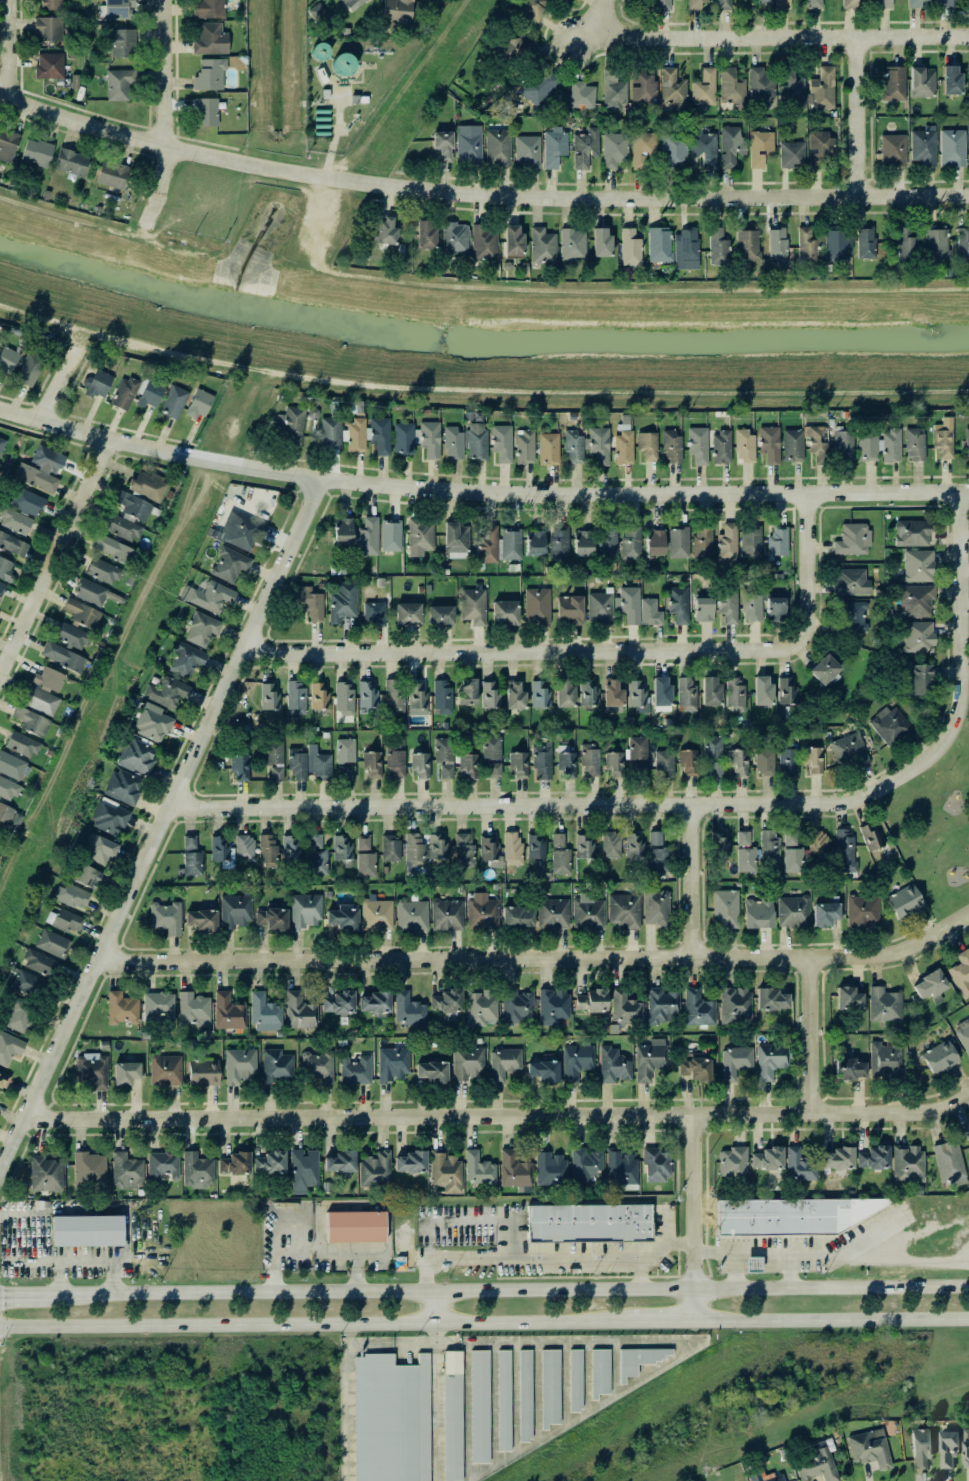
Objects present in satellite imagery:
building: (760, 1)
building: (915, 3)
building: (944, 3)
building: (51, 4)
building: (352, 4)
building: (663, 4)
building: (696, 4)
building: (724, 4)
building: (782, 4)
building: (815, 4)
building: (850, 4)
building: (884, 4)
building: (966, 6)
building: (533, 8)
building: (116, 9)
building: (209, 9)
road: (600, 10)
building: (397, 11)
building: (317, 13)
building: (48, 29)
road: (588, 31)
road: (783, 36)
building: (211, 40)
building: (122, 43)
road: (6, 49)
building: (515, 49)
building: (343, 64)
building: (49, 66)
building: (209, 75)
building: (948, 80)
building: (922, 82)
building: (119, 84)
building: (894, 84)
building: (761, 86)
building: (539, 87)
building: (643, 88)
building: (704, 88)
building: (732, 88)
building: (790, 89)
building: (822, 89)
building: (673, 90)
building: (614, 92)
building: (581, 95)
building: (205, 112)
road: (163, 114)
building: (566, 114)
building: (454, 115)
road: (856, 116)
building: (968, 136)
building: (469, 144)
building: (7, 145)
building: (443, 145)
building: (554, 147)
building: (704, 147)
building: (731, 147)
building: (921, 147)
building: (498, 148)
building: (586, 148)
building: (674, 148)
building: (760, 148)
building: (952, 148)
building: (643, 149)
building: (820, 149)
building: (614, 150)
building: (893, 150)
building: (527, 152)
building: (37, 153)
building: (792, 154)
building: (71, 162)
building: (112, 175)
road: (478, 194)
building: (386, 231)
building: (422, 235)
building: (454, 239)
building: (509, 240)
building: (962, 242)
building: (484, 243)
building: (598, 243)
building: (865, 243)
building: (936, 243)
building: (572, 244)
building: (659, 245)
building: (748, 245)
building: (906, 245)
building: (540, 246)
building: (777, 246)
building: (806, 246)
building: (837, 246)
building: (628, 247)
building: (718, 247)
building: (686, 250)
building: (945, 272)
building: (0, 340)
river: (478, 343)
building: (7, 360)
building: (30, 369)
road: (58, 384)
building: (97, 384)
building: (124, 393)
building: (149, 393)
building: (173, 401)
building: (198, 405)
building: (423, 411)
building: (466, 415)
building: (475, 416)
building: (290, 424)
building: (330, 433)
building: (368, 435)
building: (417, 438)
building: (943, 438)
building: (476, 441)
building: (499, 442)
building: (453, 443)
building: (818, 443)
building: (967, 443)
building: (2, 444)
building: (695, 444)
building: (769, 444)
building: (645, 445)
building: (793, 445)
building: (842, 445)
building: (879, 445)
building: (914, 445)
building: (587, 446)
building: (524, 447)
building: (672, 447)
building: (721, 447)
building: (744, 447)
building: (546, 448)
building: (623, 448)
building: (41, 470)
building: (145, 485)
road: (480, 492)
building: (27, 502)
building: (132, 505)
building: (15, 521)
building: (123, 529)
building: (343, 530)
building: (240, 533)
building: (912, 533)
building: (391, 535)
building: (420, 536)
building: (368, 537)
building: (456, 540)
building: (853, 540)
building: (630, 542)
building: (655, 542)
building: (751, 542)
building: (778, 542)
building: (535, 543)
building: (559, 543)
building: (583, 543)
building: (679, 543)
building: (702, 543)
building: (727, 543)
building: (510, 544)
building: (608, 544)
building: (13, 545)
building: (488, 546)
building: (114, 549)
road: (56, 559)
building: (230, 565)
building: (918, 566)
building: (6, 569)
building: (103, 571)
building: (378, 581)
building: (851, 582)
building: (418, 588)
building: (2, 589)
building: (91, 592)
building: (209, 597)
building: (342, 602)
building: (915, 602)
building: (309, 603)
building: (629, 604)
building: (728, 604)
building: (471, 605)
building: (679, 605)
building: (537, 607)
building: (752, 607)
building: (600, 608)
building: (703, 609)
building: (775, 609)
building: (569, 610)
road: (959, 610)
building: (648, 612)
building: (374, 613)
building: (505, 613)
building: (82, 614)
building: (408, 614)
building: (440, 615)
building: (851, 618)
building: (202, 629)
building: (72, 637)
building: (918, 637)
road: (600, 648)
building: (63, 657)
building: (185, 660)
building: (825, 670)
building: (921, 679)
building: (49, 680)
building: (467, 691)
building: (708, 691)
building: (759, 691)
building: (167, 692)
building: (786, 692)
building: (564, 693)
building: (587, 693)
building: (540, 694)
building: (612, 694)
building: (661, 694)
building: (735, 694)
building: (367, 695)
building: (490, 695)
building: (514, 695)
building: (687, 695)
building: (269, 696)
building: (393, 696)
building: (637, 696)
building: (319, 697)
building: (442, 697)
building: (296, 698)
building: (344, 699)
building: (418, 699)
building: (42, 702)
building: (29, 721)
building: (152, 725)
building: (891, 726)
building: (19, 744)
building: (713, 747)
building: (343, 749)
building: (849, 751)
building: (638, 753)
building: (492, 755)
building: (444, 756)
building: (137, 757)
building: (275, 760)
building: (590, 760)
building: (813, 760)
building: (395, 762)
building: (542, 762)
building: (566, 762)
building: (613, 762)
building: (689, 762)
building: (738, 762)
building: (788, 762)
building: (319, 763)
building: (664, 763)
building: (765, 763)
building: (297, 764)
building: (372, 765)
building: (519, 765)
building: (11, 766)
building: (420, 766)
building: (468, 767)
building: (240, 768)
building: (713, 769)
building: (345, 771)
building: (123, 787)
building: (7, 788)
road: (574, 806)
building: (6, 813)
building: (109, 818)
park: (935, 825)
building: (0, 827)
road: (161, 830)
building: (871, 837)
building: (743, 838)
building: (718, 841)
building: (189, 843)
building: (611, 844)
building: (817, 844)
building: (633, 846)
building: (769, 846)
building: (536, 847)
building: (220, 848)
building: (244, 848)
building: (291, 848)
building: (390, 848)
building: (512, 848)
building: (584, 848)
building: (267, 849)
building: (343, 849)
building: (464, 849)
building: (98, 850)
building: (423, 850)
building: (490, 851)
building: (846, 851)
building: (657, 854)
building: (792, 854)
building: (560, 855)
building: (317, 856)
building: (365, 858)
building: (746, 859)
building: (192, 863)
building: (86, 876)
road: (698, 882)
building: (72, 896)
building: (904, 902)
building: (656, 908)
building: (725, 909)
building: (234, 911)
building: (305, 911)
building: (624, 911)
building: (862, 911)
building: (793, 912)
building: (587, 913)
building: (758, 913)
building: (376, 914)
building: (482, 914)
building: (553, 914)
building: (825, 914)
building: (447, 915)
building: (412, 916)
building: (343, 917)
building: (166, 918)
building: (517, 918)
building: (272, 919)
building: (201, 920)
building: (65, 921)
building: (52, 944)
road: (540, 960)
building: (39, 963)
building: (961, 974)
building: (27, 984)
building: (930, 986)
building: (848, 999)
building: (771, 1000)
building: (446, 1001)
building: (591, 1001)
building: (375, 1002)
building: (339, 1003)
building: (735, 1004)
building: (662, 1005)
building: (884, 1005)
building: (515, 1006)
building: (553, 1006)
building: (158, 1007)
building: (481, 1007)
building: (121, 1008)
building: (626, 1008)
building: (193, 1009)
building: (408, 1009)
building: (698, 1009)
building: (229, 1012)
building: (299, 1012)
building: (265, 1013)
building: (18, 1015)
building: (963, 1034)
road: (816, 1035)
building: (9, 1048)
building: (940, 1058)
building: (650, 1059)
building: (885, 1059)
building: (771, 1060)
building: (576, 1062)
building: (735, 1062)
building: (504, 1063)
building: (467, 1064)
building: (392, 1065)
building: (613, 1065)
building: (239, 1066)
building: (277, 1067)
building: (318, 1067)
building: (695, 1068)
building: (849, 1069)
building: (355, 1070)
building: (92, 1071)
building: (165, 1071)
building: (543, 1071)
building: (126, 1073)
building: (203, 1073)
building: (431, 1073)
building: (3, 1081)
road: (500, 1115)
building: (967, 1138)
building: (874, 1158)
building: (768, 1159)
building: (838, 1159)
building: (411, 1162)
building: (341, 1163)
building: (733, 1163)
building: (235, 1164)
building: (907, 1164)
building: (949, 1164)
building: (270, 1165)
building: (656, 1165)
building: (163, 1166)
building: (584, 1166)
building: (799, 1166)
building: (478, 1169)
building: (550, 1169)
building: (621, 1169)
building: (89, 1170)
building: (303, 1170)
building: (374, 1170)
building: (514, 1170)
building: (126, 1171)
building: (197, 1171)
building: (445, 1172)
building: (45, 1174)
building: (325, 1186)
road: (691, 1201)
building: (303, 1208)
building: (790, 1216)
building: (586, 1223)
building: (352, 1227)
building: (84, 1231)
road: (664, 1247)
road: (314, 1249)
road: (833, 1253)
road: (741, 1254)
road: (531, 1260)
building: (753, 1265)
road: (734, 1271)
road: (511, 1289)
road: (27, 1293)
road: (693, 1304)
road: (436, 1306)
road: (831, 1319)
road: (660, 1320)
road: (531, 1321)
road: (218, 1323)
road: (436, 1332)
road: (685, 1347)
building: (636, 1359)
road: (346, 1368)
building: (597, 1372)
building: (573, 1379)
building: (547, 1387)
building: (522, 1395)
building: (501, 1400)
building: (477, 1406)
building: (451, 1416)
building: (389, 1419)
building: (918, 1448)
building: (946, 1448)
building: (965, 1448)
building: (867, 1449)
building: (813, 1465)
building: (752, 1476)
building: (773, 1478)

